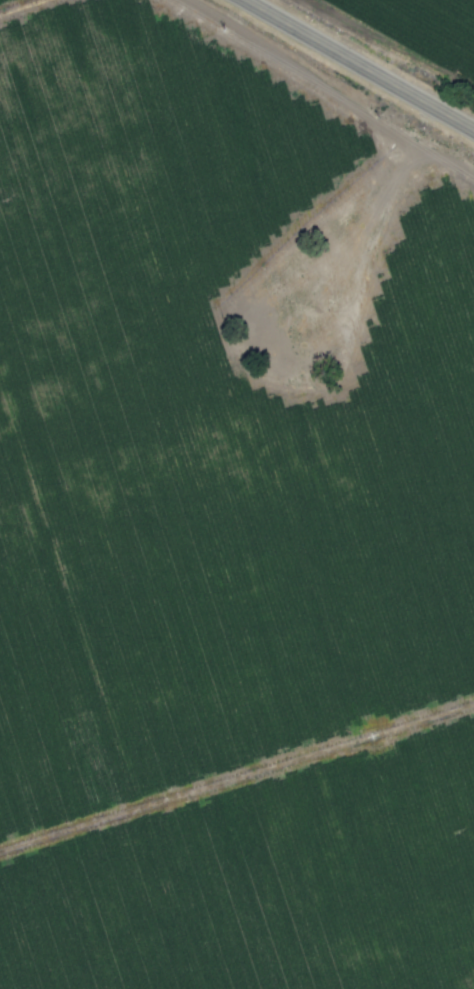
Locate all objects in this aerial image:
road: (358, 65)

